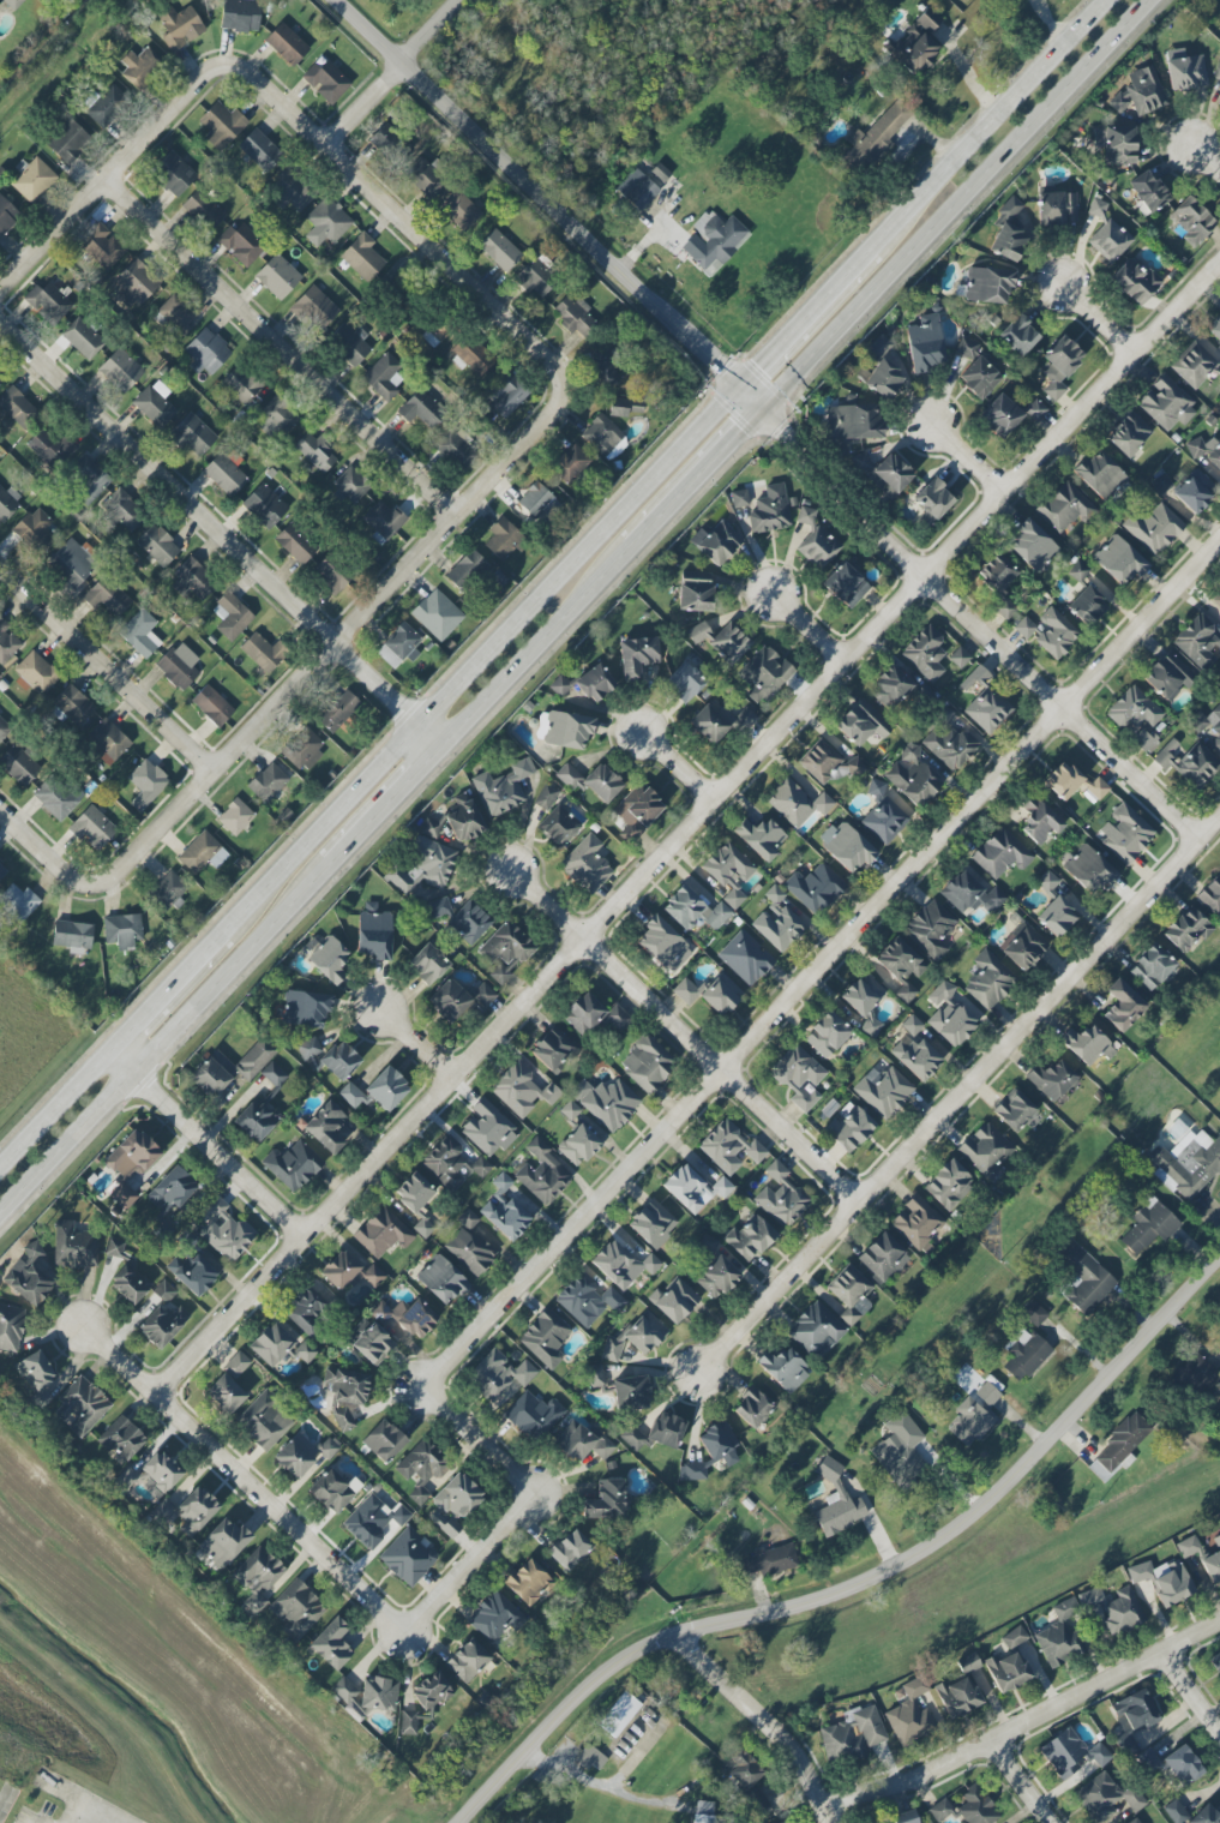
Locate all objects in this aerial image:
building: (12, 4)
building: (240, 14)
road: (1050, 22)
building: (179, 26)
building: (286, 43)
building: (914, 46)
building: (139, 66)
road: (398, 72)
building: (1185, 72)
building: (1216, 73)
building: (325, 82)
building: (1137, 94)
building: (1218, 103)
building: (104, 106)
building: (221, 125)
road: (991, 125)
building: (879, 132)
building: (386, 140)
building: (67, 142)
building: (1114, 144)
road: (1160, 146)
building: (259, 150)
road: (1207, 156)
road: (116, 168)
building: (173, 173)
building: (425, 179)
building: (32, 180)
building: (637, 188)
building: (1147, 191)
building: (292, 192)
road: (960, 206)
building: (1096, 206)
building: (1056, 208)
building: (203, 210)
building: (461, 210)
building: (6, 214)
building: (1192, 217)
building: (326, 222)
road: (411, 224)
building: (1008, 233)
building: (713, 239)
building: (1108, 240)
building: (240, 245)
building: (102, 246)
building: (499, 250)
building: (362, 257)
building: (277, 276)
building: (535, 277)
building: (1134, 281)
building: (136, 282)
building: (987, 284)
building: (48, 302)
building: (314, 307)
building: (175, 313)
building: (575, 316)
road: (1100, 318)
road: (805, 319)
building: (1215, 329)
building: (435, 332)
building: (1017, 335)
building: (83, 337)
building: (924, 343)
building: (349, 344)
road: (283, 346)
building: (967, 346)
building: (206, 352)
building: (470, 355)
building: (1058, 365)
building: (1192, 365)
building: (605, 367)
building: (120, 370)
building: (1218, 371)
building: (384, 377)
building: (884, 377)
building: (979, 377)
building: (0, 380)
building: (241, 384)
traffic signals: (738, 390)
building: (505, 394)
building: (155, 403)
building: (1166, 403)
building: (17, 407)
building: (625, 407)
building: (421, 409)
building: (1034, 410)
traffic signals: (762, 413)
building: (999, 415)
building: (276, 418)
road: (767, 418)
building: (852, 421)
building: (1128, 433)
building: (192, 436)
building: (603, 438)
building: (49, 448)
building: (455, 448)
building: (314, 451)
road: (512, 454)
building: (1207, 455)
road: (964, 458)
building: (570, 463)
building: (224, 474)
building: (1098, 474)
building: (890, 475)
building: (89, 479)
road: (696, 482)
building: (1160, 484)
building: (349, 485)
road: (976, 490)
building: (1194, 491)
building: (739, 498)
building: (932, 499)
building: (8, 502)
building: (534, 503)
building: (264, 506)
building: (1064, 506)
building: (122, 510)
building: (769, 510)
building: (805, 515)
building: (381, 521)
building: (1154, 528)
building: (35, 532)
road: (222, 535)
building: (501, 538)
building: (719, 542)
building: (295, 544)
building: (157, 545)
building: (1032, 545)
building: (818, 547)
building: (1119, 560)
building: (72, 563)
road: (951, 566)
building: (1078, 569)
building: (465, 570)
building: (331, 575)
building: (193, 581)
building: (998, 583)
building: (845, 584)
building: (693, 590)
building: (107, 596)
building: (1216, 600)
road: (912, 605)
building: (1086, 606)
building: (437, 614)
building: (230, 616)
road: (805, 628)
building: (1024, 628)
building: (140, 634)
building: (1054, 634)
building: (722, 641)
building: (7, 642)
building: (1198, 642)
building: (398, 646)
road: (537, 650)
building: (260, 653)
building: (925, 653)
building: (637, 656)
building: (958, 658)
road: (477, 660)
building: (178, 666)
road: (108, 668)
building: (36, 672)
building: (763, 673)
building: (1167, 676)
building: (974, 678)
building: (684, 682)
building: (585, 683)
building: (890, 686)
road: (1088, 697)
building: (73, 704)
building: (211, 706)
road: (272, 709)
building: (987, 709)
building: (337, 710)
building: (1136, 716)
building: (745, 718)
building: (710, 722)
building: (861, 722)
building: (1212, 724)
building: (563, 728)
building: (4, 730)
building: (107, 740)
building: (949, 745)
building: (301, 748)
road: (678, 762)
building: (1186, 762)
building: (827, 763)
building: (18, 764)
road: (725, 766)
building: (911, 776)
building: (591, 780)
building: (1062, 780)
building: (269, 782)
building: (145, 784)
building: (501, 787)
building: (1096, 788)
building: (56, 796)
building: (545, 797)
building: (795, 803)
road: (389, 808)
building: (637, 811)
building: (884, 814)
building: (235, 816)
building: (463, 818)
building: (1038, 821)
building: (431, 826)
building: (558, 826)
building: (91, 827)
road: (685, 828)
building: (1126, 834)
building: (761, 836)
road: (36, 845)
building: (846, 846)
building: (202, 853)
building: (1000, 853)
building: (423, 864)
building: (585, 864)
building: (1088, 869)
building: (2, 871)
building: (729, 871)
building: (815, 887)
building: (167, 892)
building: (970, 892)
building: (1210, 894)
building: (18, 901)
building: (1054, 905)
building: (437, 908)
building: (693, 911)
building: (469, 922)
building: (777, 922)
building: (930, 929)
building: (1185, 929)
building: (121, 930)
building: (373, 934)
building: (72, 935)
building: (662, 945)
building: (1022, 946)
building: (505, 951)
building: (325, 957)
building: (745, 958)
road: (818, 963)
building: (427, 964)
building: (897, 967)
building: (1150, 967)
building: (988, 979)
building: (685, 991)
building: (720, 994)
building: (861, 994)
road: (164, 995)
building: (449, 1000)
building: (1122, 1006)
building: (305, 1008)
building: (583, 1014)
building: (948, 1015)
building: (618, 1018)
building: (871, 1026)
road: (681, 1032)
building: (827, 1035)
building: (1219, 1041)
road: (168, 1042)
road: (417, 1043)
building: (1087, 1045)
building: (553, 1049)
building: (914, 1050)
building: (329, 1055)
road: (749, 1061)
building: (647, 1063)
building: (230, 1067)
building: (274, 1075)
building: (798, 1077)
building: (1051, 1079)
building: (386, 1089)
road: (960, 1090)
building: (883, 1091)
building: (350, 1095)
building: (606, 1102)
building: (570, 1110)
building: (1012, 1110)
road: (54, 1114)
building: (256, 1117)
building: (325, 1127)
building: (848, 1127)
building: (487, 1128)
building: (577, 1145)
road: (203, 1146)
building: (729, 1147)
building: (985, 1149)
building: (130, 1164)
building: (451, 1164)
building: (1189, 1164)
building: (293, 1165)
building: (775, 1171)
building: (541, 1173)
building: (946, 1183)
building: (692, 1188)
building: (170, 1191)
building: (414, 1192)
building: (781, 1204)
building: (504, 1210)
building: (467, 1219)
building: (918, 1222)
building: (653, 1223)
building: (1148, 1225)
building: (423, 1227)
building: (224, 1231)
building: (383, 1233)
building: (749, 1237)
building: (707, 1242)
building: (73, 1246)
building: (34, 1251)
building: (469, 1251)
building: (882, 1258)
building: (621, 1265)
building: (348, 1271)
building: (192, 1273)
building: (126, 1275)
building: (716, 1277)
building: (1083, 1277)
building: (441, 1279)
building: (26, 1281)
building: (163, 1291)
building: (849, 1294)
building: (587, 1300)
building: (675, 1301)
building: (306, 1311)
building: (380, 1312)
building: (1033, 1313)
building: (416, 1319)
building: (162, 1324)
building: (10, 1326)
building: (816, 1330)
road: (491, 1335)
building: (636, 1336)
building: (545, 1337)
building: (372, 1344)
building: (280, 1347)
building: (1024, 1354)
building: (235, 1365)
building: (783, 1368)
building: (497, 1374)
building: (35, 1375)
building: (1196, 1377)
building: (224, 1393)
building: (629, 1393)
building: (987, 1393)
building: (344, 1396)
building: (80, 1405)
building: (752, 1407)
building: (533, 1415)
building: (264, 1421)
building: (969, 1421)
building: (655, 1432)
building: (122, 1439)
building: (383, 1440)
building: (583, 1441)
building: (719, 1443)
building: (1122, 1443)
road: (480, 1445)
building: (327, 1447)
building: (901, 1452)
building: (295, 1455)
building: (420, 1469)
building: (692, 1473)
building: (151, 1474)
road: (241, 1480)
building: (332, 1489)
road: (284, 1498)
building: (606, 1500)
building: (836, 1501)
building: (453, 1504)
building: (186, 1511)
building: (372, 1521)
building: (221, 1542)
building: (569, 1549)
building: (1202, 1555)
building: (407, 1557)
building: (771, 1559)
road: (473, 1564)
building: (258, 1577)
building: (1164, 1581)
building: (528, 1583)
road: (861, 1584)
building: (1090, 1597)
building: (296, 1609)
building: (1122, 1612)
building: (493, 1615)
building: (1058, 1636)
building: (1014, 1637)
building: (330, 1643)
building: (467, 1660)
building: (1215, 1661)
building: (1006, 1671)
building: (958, 1695)
road: (1192, 1695)
building: (366, 1696)
building: (422, 1703)
building: (909, 1713)
building: (617, 1715)
building: (1132, 1717)
road: (770, 1719)
road: (1027, 1722)
building: (852, 1735)
building: (1071, 1753)
building: (588, 1758)
building: (1182, 1765)
building: (741, 1769)
road: (1023, 1781)
building: (1105, 1797)
building: (755, 1800)
building: (967, 1807)
building: (703, 1811)
building: (1174, 1811)
road: (100, 1813)
building: (1204, 1816)
building: (907, 1817)
building: (1134, 1821)
building: (785, 1822)

